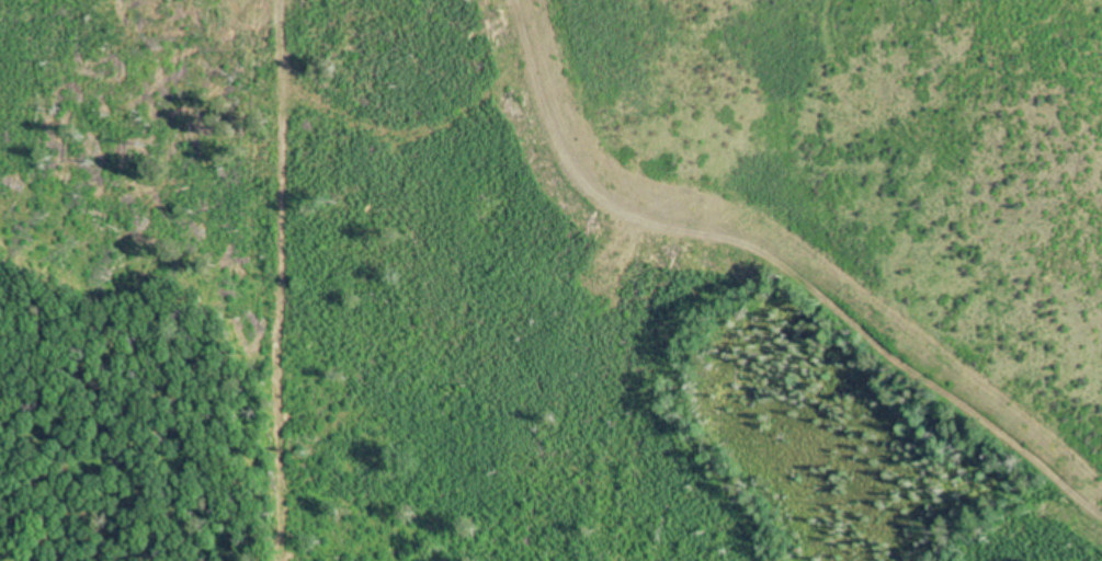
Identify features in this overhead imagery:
road: (789, 257)
road: (258, 280)

